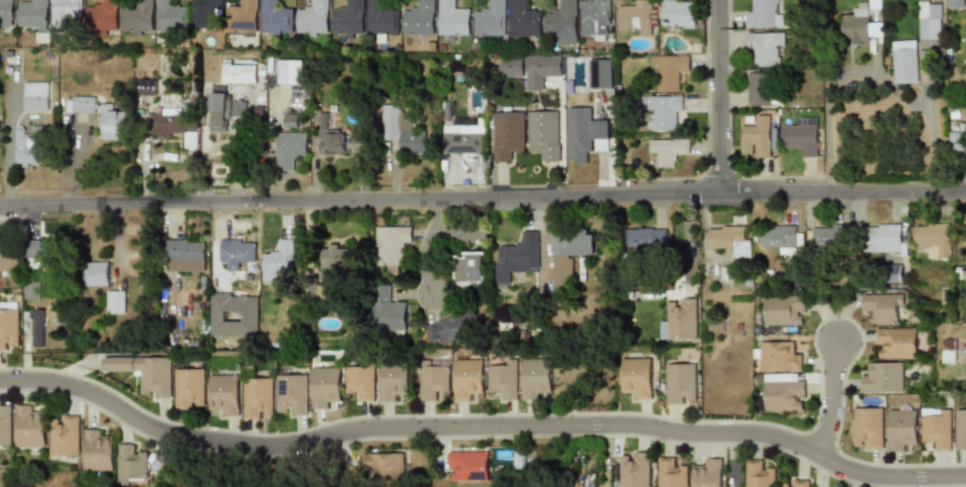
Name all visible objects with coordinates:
building: (955, 3)
building: (871, 4)
building: (7, 10)
building: (65, 12)
building: (33, 13)
building: (764, 13)
building: (208, 14)
building: (103, 15)
building: (170, 15)
building: (243, 15)
building: (679, 15)
building: (138, 17)
building: (594, 17)
building: (278, 18)
building: (314, 18)
building: (420, 18)
building: (453, 18)
building: (524, 18)
building: (349, 19)
building: (383, 19)
building: (491, 19)
building: (637, 19)
building: (562, 20)
building: (929, 21)
building: (856, 29)
building: (765, 48)
building: (905, 62)
building: (531, 69)
building: (670, 70)
building: (292, 72)
building: (240, 73)
building: (601, 73)
road: (868, 75)
building: (147, 87)
building: (759, 88)
building: (36, 96)
road: (717, 96)
building: (218, 107)
building: (238, 108)
building: (664, 111)
building: (291, 121)
building: (173, 124)
building: (114, 126)
building: (402, 129)
building: (545, 134)
building: (586, 134)
building: (507, 135)
building: (331, 138)
building: (463, 138)
building: (756, 138)
building: (801, 138)
building: (958, 141)
building: (359, 143)
building: (24, 148)
building: (290, 149)
building: (666, 151)
road: (482, 197)
building: (468, 233)
building: (829, 235)
building: (647, 237)
building: (780, 237)
building: (883, 237)
building: (729, 238)
building: (933, 239)
road: (426, 244)
building: (392, 245)
building: (41, 251)
building: (185, 251)
building: (569, 253)
building: (234, 254)
building: (517, 257)
building: (279, 258)
building: (8, 260)
building: (335, 260)
building: (469, 268)
building: (96, 273)
building: (33, 290)
building: (116, 302)
building: (883, 306)
building: (387, 309)
building: (784, 310)
building: (234, 314)
building: (680, 320)
building: (10, 326)
building: (453, 327)
building: (896, 343)
building: (948, 351)
building: (778, 357)
building: (965, 367)
building: (144, 372)
building: (637, 377)
building: (467, 378)
building: (535, 378)
building: (883, 378)
building: (393, 380)
building: (503, 380)
building: (433, 381)
building: (360, 382)
building: (680, 384)
building: (325, 386)
building: (191, 389)
building: (225, 394)
building: (292, 395)
building: (786, 395)
building: (258, 398)
road: (829, 400)
road: (480, 425)
building: (6, 426)
building: (31, 427)
building: (868, 428)
building: (901, 428)
building: (937, 428)
building: (960, 430)
building: (65, 436)
building: (99, 450)
road: (735, 460)
building: (385, 465)
building: (133, 466)
building: (468, 467)
building: (635, 469)
building: (672, 473)
building: (708, 473)
building: (759, 474)
building: (800, 483)

